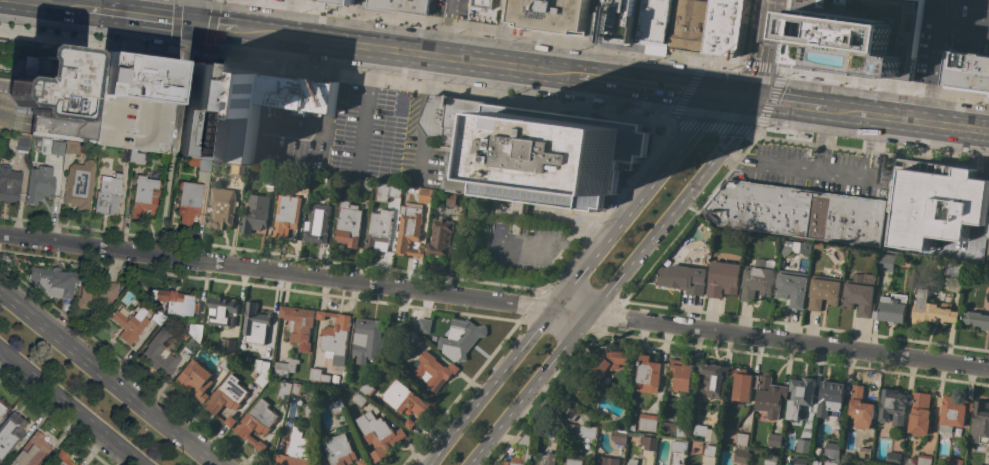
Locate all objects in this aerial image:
building: (342, 1)
building: (483, 5)
road: (147, 6)
building: (399, 6)
road: (194, 11)
road: (42, 12)
road: (366, 14)
building: (551, 15)
road: (500, 16)
road: (285, 17)
building: (621, 21)
road: (115, 22)
traffic signals: (192, 22)
road: (357, 22)
road: (596, 22)
building: (654, 22)
road: (211, 24)
building: (691, 25)
building: (725, 27)
road: (211, 28)
road: (446, 28)
road: (167, 29)
road: (259, 31)
road: (172, 37)
road: (544, 39)
building: (835, 39)
road: (85, 40)
road: (939, 45)
road: (496, 49)
road: (760, 50)
road: (664, 54)
road: (429, 56)
road: (588, 61)
road: (333, 62)
building: (968, 70)
building: (138, 77)
road: (182, 79)
building: (52, 83)
road: (660, 87)
building: (300, 94)
road: (329, 97)
traffic signals: (744, 98)
road: (781, 102)
road: (536, 104)
building: (88, 105)
road: (5, 107)
road: (365, 112)
building: (221, 113)
road: (903, 119)
road: (417, 120)
building: (133, 123)
parking lot: (133, 123)
road: (734, 128)
road: (302, 130)
parking lot: (367, 133)
building: (457, 136)
parking lot: (292, 139)
road: (818, 142)
building: (23, 143)
building: (73, 147)
building: (58, 148)
building: (128, 154)
building: (556, 155)
building: (139, 157)
building: (201, 163)
road: (987, 163)
building: (237, 169)
road: (821, 177)
building: (271, 178)
building: (332, 182)
building: (9, 183)
building: (80, 184)
building: (40, 185)
building: (387, 192)
road: (639, 193)
building: (109, 194)
building: (145, 196)
road: (167, 196)
building: (425, 196)
building: (453, 199)
building: (190, 200)
road: (981, 201)
building: (936, 202)
road: (672, 209)
building: (221, 211)
building: (798, 212)
building: (256, 214)
building: (286, 215)
road: (691, 216)
building: (317, 224)
building: (348, 224)
building: (409, 230)
building: (378, 231)
road: (976, 231)
building: (988, 233)
building: (440, 238)
road: (555, 244)
building: (818, 245)
building: (796, 247)
building: (887, 262)
building: (953, 269)
road: (275, 270)
building: (683, 275)
building: (723, 279)
building: (54, 281)
building: (757, 281)
building: (792, 287)
building: (824, 292)
building: (860, 293)
building: (97, 295)
building: (176, 300)
road: (529, 305)
building: (892, 308)
building: (931, 310)
building: (221, 311)
road: (570, 311)
building: (158, 317)
road: (609, 317)
building: (976, 319)
building: (254, 321)
building: (130, 323)
building: (299, 325)
building: (425, 326)
building: (397, 328)
building: (197, 331)
building: (988, 331)
building: (335, 336)
building: (461, 338)
building: (368, 340)
building: (409, 340)
road: (788, 340)
building: (192, 344)
building: (229, 347)
building: (153, 351)
road: (124, 364)
building: (226, 364)
building: (262, 366)
building: (285, 367)
building: (432, 371)
building: (598, 372)
building: (649, 374)
building: (682, 374)
building: (318, 375)
road: (107, 377)
building: (714, 378)
building: (194, 379)
building: (261, 380)
building: (743, 384)
road: (488, 386)
building: (297, 389)
building: (367, 389)
road: (528, 389)
building: (284, 390)
road: (459, 393)
building: (227, 395)
building: (800, 395)
building: (771, 396)
building: (359, 399)
road: (544, 399)
building: (831, 399)
building: (404, 400)
building: (860, 404)
building: (337, 406)
building: (894, 406)
building: (3, 407)
road: (68, 408)
building: (310, 410)
building: (575, 413)
building: (954, 413)
building: (920, 414)
building: (0, 417)
road: (53, 421)
building: (229, 421)
building: (647, 422)
building: (257, 423)
building: (980, 423)
building: (675, 429)
building: (587, 431)
building: (706, 432)
building: (10, 433)
building: (378, 435)
building: (554, 436)
building: (619, 437)
building: (634, 439)
building: (742, 439)
building: (775, 440)
building: (649, 443)
building: (679, 446)
building: (804, 446)
building: (295, 450)
building: (339, 450)
building: (523, 450)
building: (832, 450)
building: (32, 451)
building: (709, 451)
building: (863, 451)
building: (741, 454)
building: (893, 458)
building: (61, 459)
building: (545, 459)
building: (770, 459)
building: (924, 459)
building: (575, 460)
building: (607, 461)
building: (632, 461)
building: (799, 461)
building: (910, 461)
building: (954, 461)
building: (362, 462)
building: (662, 462)
building: (830, 462)
building: (79, 464)
road: (426, 464)
building: (593, 464)
building: (980, 464)

